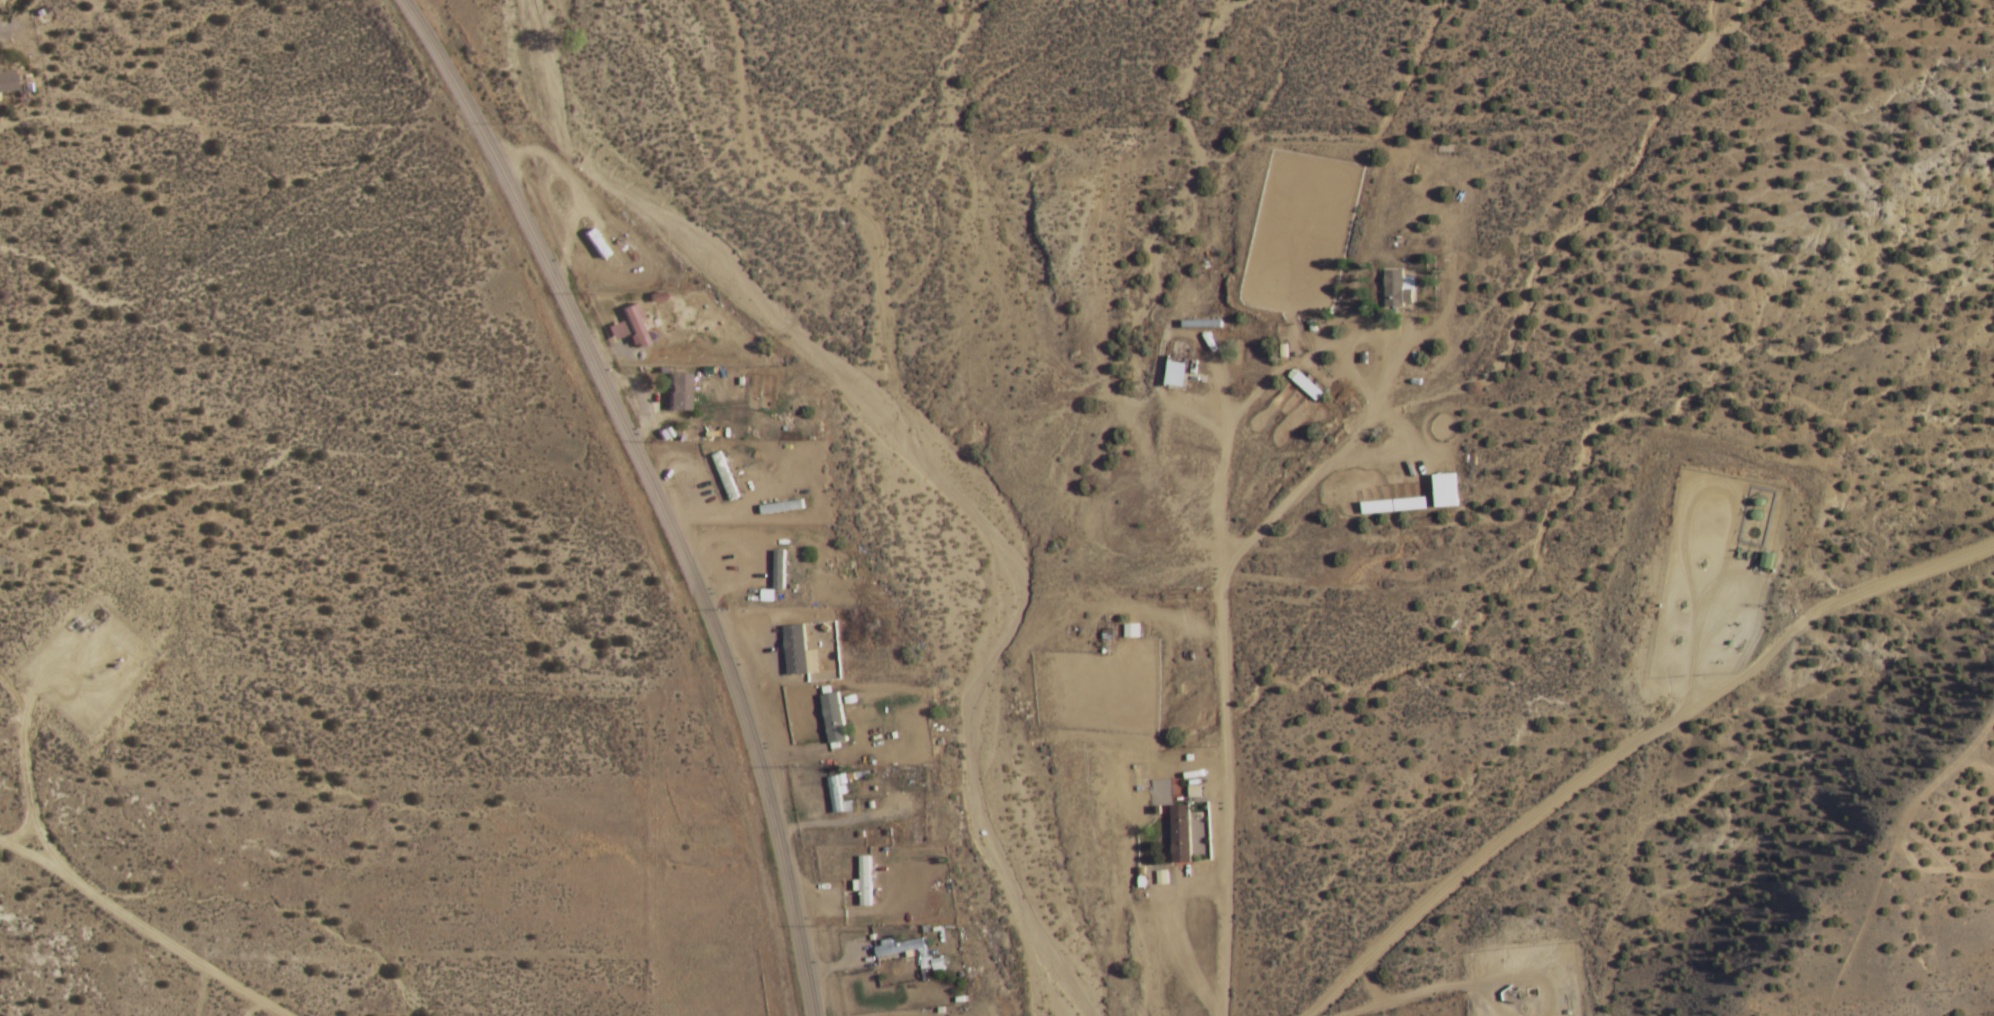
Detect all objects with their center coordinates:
building: (4, 84)
building: (1452, 274)
building: (1391, 289)
building: (634, 327)
building: (1201, 327)
road: (628, 357)
road: (1275, 372)
building: (1175, 377)
building: (1306, 388)
building: (677, 394)
road: (641, 397)
road: (1375, 402)
road: (1193, 405)
road: (662, 422)
road: (1163, 446)
river: (922, 447)
road: (1222, 467)
building: (724, 478)
road: (651, 490)
building: (1443, 492)
building: (1391, 507)
building: (1149, 511)
road: (714, 513)
road: (721, 568)
building: (777, 572)
building: (1130, 633)
road: (745, 643)
building: (794, 651)
building: (832, 719)
road: (1629, 746)
road: (23, 752)
road: (824, 755)
building: (833, 796)
road: (1227, 798)
road: (837, 823)
road: (19, 832)
building: (1179, 835)
building: (865, 880)
road: (855, 915)
road: (140, 928)
road: (1176, 934)
building: (898, 948)
road: (832, 969)
road: (1524, 977)
road: (1368, 985)
road: (1407, 996)
road: (1484, 1002)

